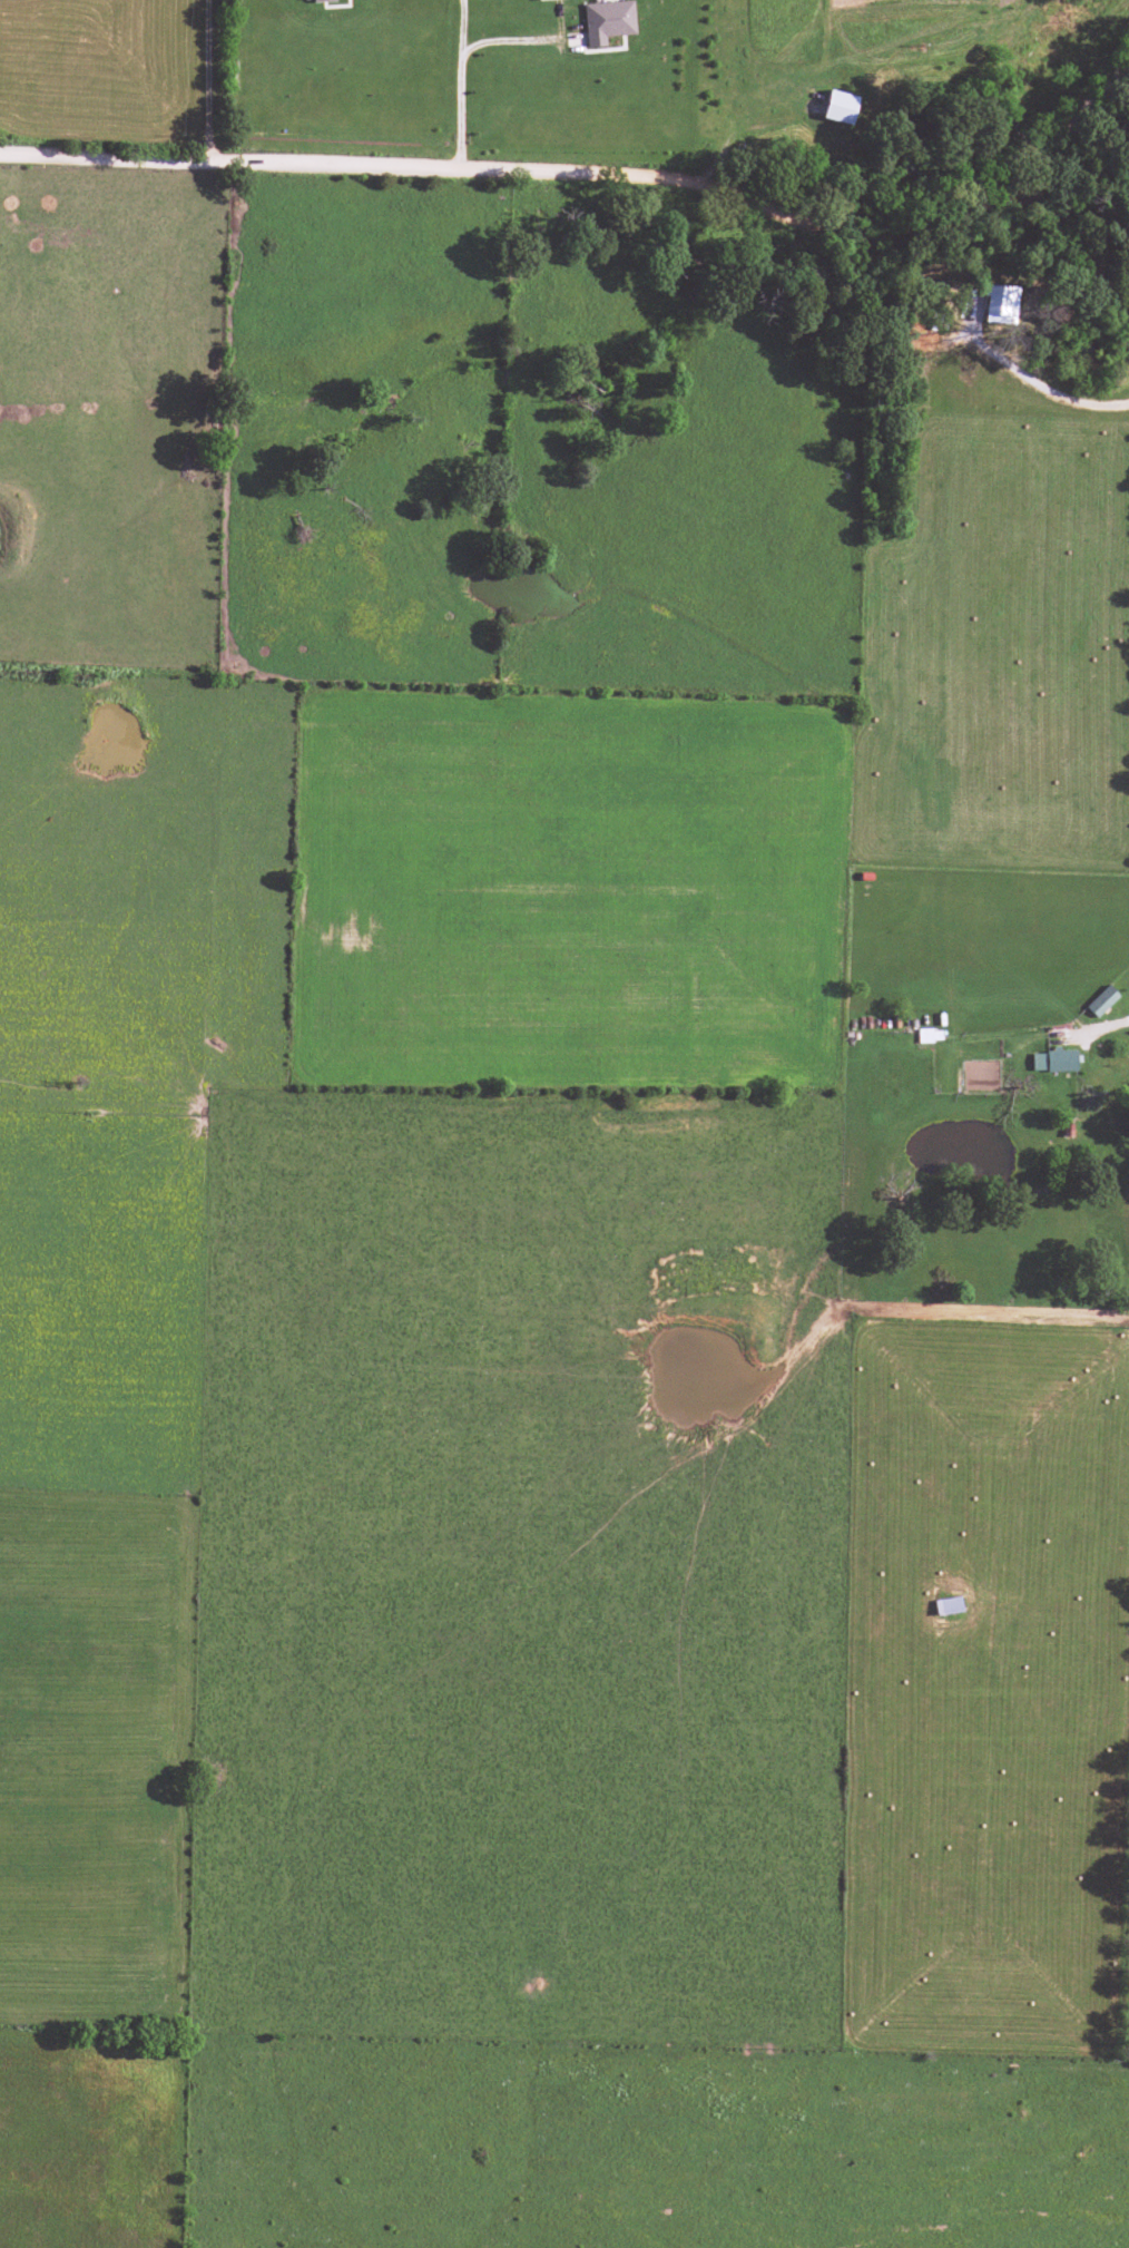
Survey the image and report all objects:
building: (314, 0)
building: (607, 21)
road: (511, 41)
road: (206, 80)
road: (461, 84)
building: (838, 107)
road: (602, 173)
road: (1081, 240)
building: (1000, 304)
building: (1052, 1061)
building: (946, 1605)

